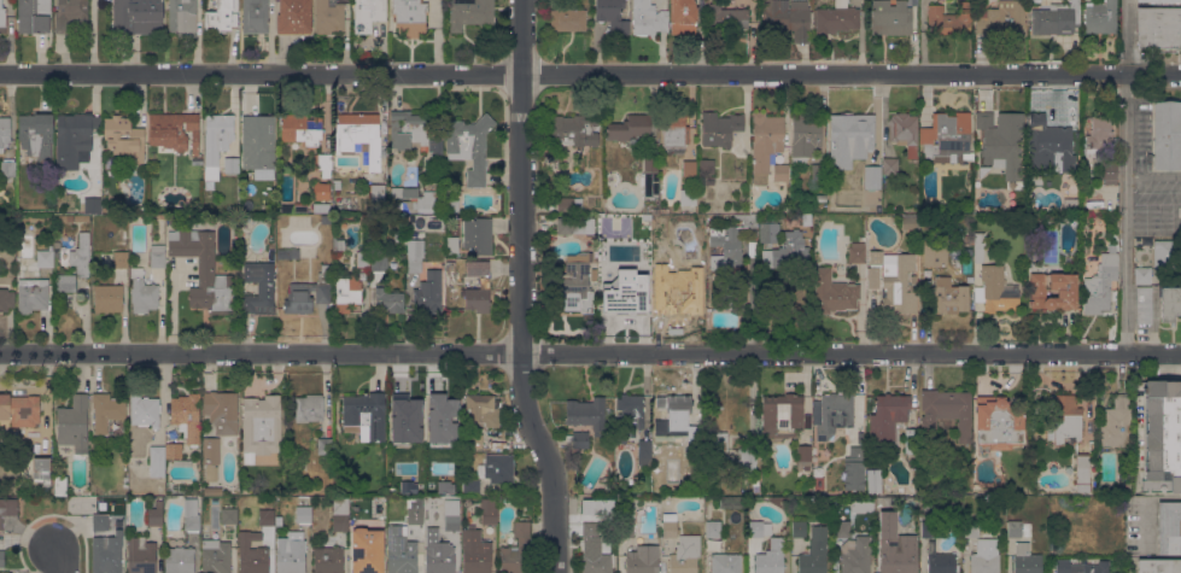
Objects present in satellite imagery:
building: (1159, 0)
building: (469, 13)
building: (70, 14)
building: (367, 14)
building: (34, 16)
building: (255, 16)
building: (612, 16)
building: (891, 16)
building: (136, 17)
building: (182, 17)
building: (221, 17)
building: (293, 17)
building: (328, 17)
building: (409, 17)
building: (683, 17)
building: (1100, 17)
building: (567, 18)
building: (726, 18)
building: (788, 18)
building: (836, 18)
building: (1001, 18)
building: (2, 19)
building: (648, 19)
building: (949, 19)
building: (1056, 19)
building: (1158, 28)
road: (590, 72)
building: (75, 128)
building: (628, 128)
building: (720, 128)
building: (302, 129)
building: (408, 129)
building: (174, 130)
building: (5, 131)
building: (904, 131)
building: (572, 133)
building: (674, 133)
building: (1097, 134)
building: (36, 135)
building: (805, 135)
building: (1167, 135)
building: (124, 138)
building: (359, 138)
building: (853, 138)
building: (947, 138)
building: (216, 141)
building: (1001, 141)
building: (765, 142)
building: (258, 145)
building: (435, 145)
building: (1048, 145)
building: (469, 146)
building: (194, 160)
building: (109, 162)
building: (93, 163)
building: (323, 163)
building: (232, 165)
building: (707, 166)
building: (7, 168)
building: (689, 168)
building: (889, 168)
building: (780, 173)
building: (1109, 173)
building: (818, 174)
road: (1126, 175)
building: (649, 176)
building: (871, 177)
building: (709, 181)
building: (1086, 183)
building: (337, 185)
building: (321, 191)
building: (206, 192)
building: (375, 193)
building: (688, 194)
building: (819, 198)
building: (416, 199)
building: (451, 205)
building: (569, 205)
building: (1091, 205)
building: (296, 207)
building: (321, 207)
building: (232, 209)
building: (1179, 211)
building: (82, 217)
building: (63, 218)
building: (173, 218)
building: (326, 218)
building: (364, 218)
building: (416, 220)
building: (748, 220)
building: (1035, 220)
building: (404, 222)
building: (408, 222)
building: (908, 223)
building: (563, 224)
building: (589, 226)
building: (768, 232)
building: (477, 234)
building: (969, 239)
building: (338, 242)
building: (452, 244)
building: (374, 246)
building: (978, 246)
building: (725, 247)
building: (790, 251)
building: (1167, 251)
building: (662, 252)
building: (856, 252)
building: (934, 252)
building: (288, 253)
building: (81, 255)
building: (415, 255)
building: (157, 256)
building: (362, 257)
building: (876, 257)
building: (45, 258)
building: (119, 258)
building: (957, 262)
building: (379, 263)
building: (450, 265)
building: (203, 268)
building: (327, 270)
building: (62, 274)
building: (1142, 275)
building: (872, 277)
building: (969, 279)
building: (484, 282)
building: (1100, 282)
building: (575, 283)
building: (900, 286)
building: (258, 287)
road: (522, 288)
building: (998, 290)
building: (1052, 290)
building: (142, 292)
building: (347, 292)
building: (428, 292)
building: (832, 292)
building: (679, 293)
building: (33, 294)
building: (626, 296)
building: (948, 296)
building: (304, 297)
building: (107, 298)
building: (6, 299)
building: (388, 300)
building: (1170, 303)
building: (1142, 305)
road: (590, 351)
building: (309, 408)
building: (19, 409)
building: (106, 410)
building: (145, 410)
building: (222, 410)
building: (481, 410)
building: (946, 411)
building: (586, 414)
building: (630, 414)
building: (834, 414)
building: (366, 415)
building: (782, 415)
building: (887, 415)
building: (186, 416)
building: (674, 416)
building: (417, 417)
building: (440, 417)
building: (1066, 420)
building: (72, 422)
building: (999, 423)
building: (1117, 423)
building: (261, 426)
building: (1163, 432)
building: (474, 439)
building: (579, 439)
building: (911, 440)
building: (325, 445)
building: (717, 445)
building: (173, 450)
building: (644, 452)
building: (803, 456)
building: (210, 457)
building: (747, 458)
building: (157, 461)
building: (181, 463)
building: (498, 468)
building: (41, 469)
building: (853, 469)
building: (1082, 472)
building: (873, 480)
building: (755, 481)
building: (698, 484)
building: (60, 485)
building: (435, 486)
building: (470, 486)
building: (645, 489)
building: (212, 491)
building: (711, 491)
building: (731, 502)
building: (881, 502)
building: (861, 505)
building: (7, 507)
road: (1145, 508)
building: (415, 511)
building: (489, 511)
building: (154, 514)
building: (191, 514)
building: (224, 514)
building: (303, 514)
building: (340, 514)
building: (451, 515)
building: (265, 516)
building: (100, 522)
building: (670, 526)
building: (589, 527)
building: (758, 527)
building: (1169, 527)
building: (712, 528)
building: (799, 528)
building: (842, 528)
building: (883, 528)
building: (932, 528)
building: (970, 528)
building: (1015, 528)
building: (626, 530)
building: (515, 549)
building: (367, 550)
building: (399, 551)
building: (474, 551)
building: (814, 551)
building: (251, 554)
building: (106, 555)
building: (140, 555)
building: (684, 555)
building: (855, 555)
building: (215, 556)
building: (984, 556)
building: (291, 557)
building: (771, 557)
building: (901, 557)
building: (1, 559)
building: (439, 559)
building: (595, 559)
building: (1025, 559)
road: (58, 560)
building: (179, 560)
building: (327, 560)
building: (643, 560)
building: (940, 561)
building: (725, 563)
building: (1081, 566)
building: (1158, 566)
building: (4, 572)

